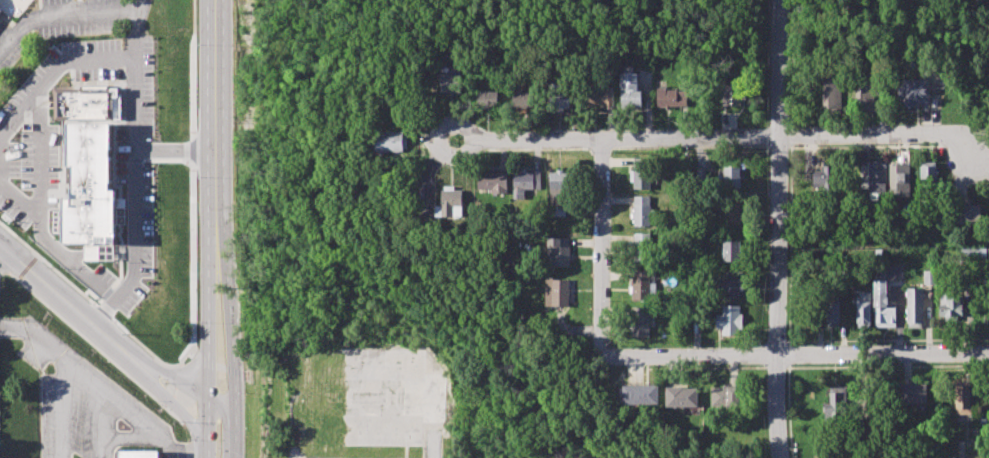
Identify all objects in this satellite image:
building: (979, 1)
building: (0, 14)
road: (63, 16)
parking lot: (78, 17)
parking lot: (8, 48)
parking lot: (91, 60)
road: (45, 66)
road: (131, 73)
building: (451, 79)
parking lot: (145, 85)
building: (631, 90)
building: (915, 92)
building: (730, 95)
building: (832, 96)
building: (560, 97)
building: (600, 97)
building: (523, 98)
building: (673, 98)
building: (487, 99)
road: (214, 122)
road: (716, 136)
building: (391, 141)
parking lot: (120, 152)
parking lot: (27, 153)
building: (85, 163)
building: (641, 173)
building: (875, 176)
building: (732, 177)
building: (929, 177)
road: (778, 178)
building: (823, 178)
building: (899, 178)
building: (492, 182)
building: (525, 183)
road: (193, 184)
building: (558, 193)
road: (133, 200)
building: (450, 203)
building: (642, 210)
building: (731, 213)
building: (970, 213)
parking lot: (141, 243)
building: (641, 247)
road: (608, 249)
building: (557, 251)
building: (730, 251)
building: (878, 252)
building: (973, 254)
building: (988, 254)
building: (847, 264)
parking lot: (104, 274)
building: (929, 276)
building: (642, 285)
building: (730, 288)
building: (556, 292)
road: (60, 295)
building: (882, 305)
building: (950, 306)
building: (914, 307)
building: (832, 309)
building: (863, 310)
building: (729, 320)
building: (639, 322)
road: (36, 339)
road: (235, 349)
road: (209, 351)
road: (798, 355)
road: (178, 376)
road: (179, 377)
road: (174, 391)
building: (914, 393)
road: (163, 394)
building: (640, 394)
building: (681, 396)
building: (724, 396)
road: (169, 400)
building: (963, 400)
road: (777, 407)
building: (835, 407)
road: (122, 409)
road: (62, 411)
road: (171, 413)
building: (862, 427)
road: (185, 432)
road: (188, 449)
road: (194, 454)
building: (137, 455)
road: (178, 456)

